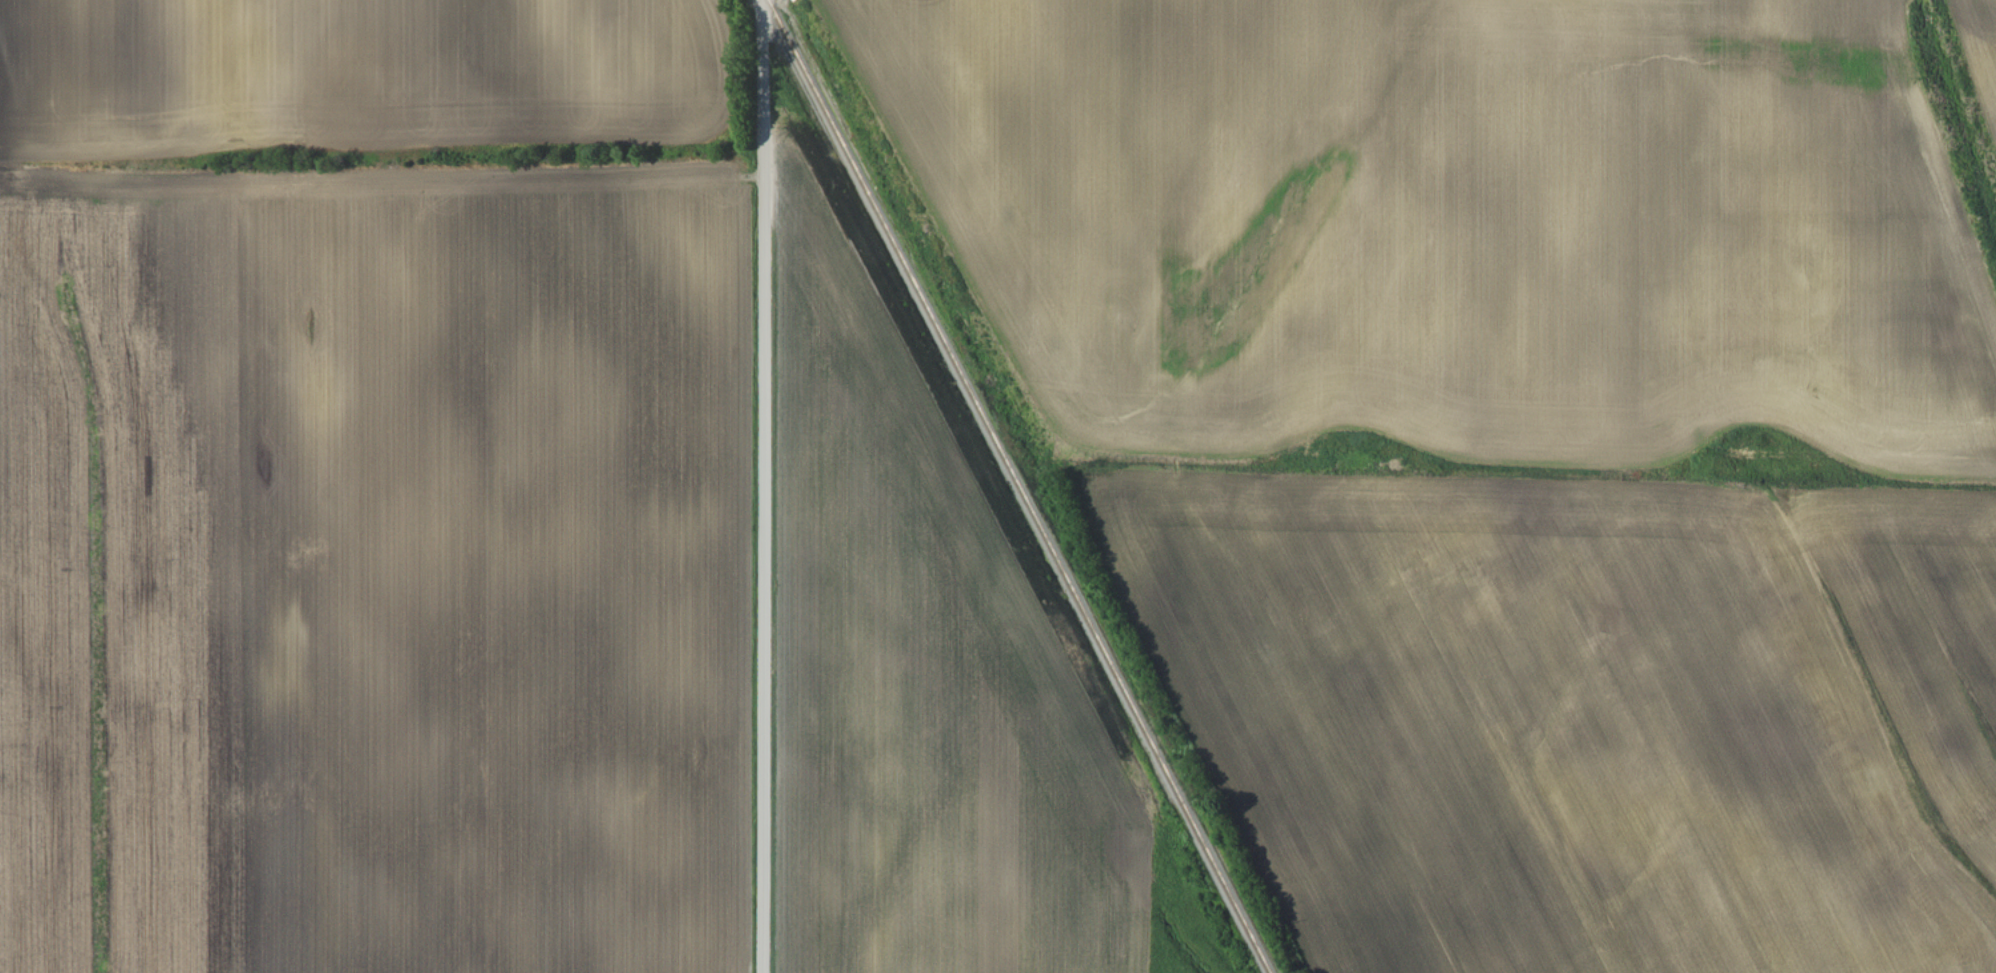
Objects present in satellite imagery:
road: (763, 486)
railway: (1018, 486)

